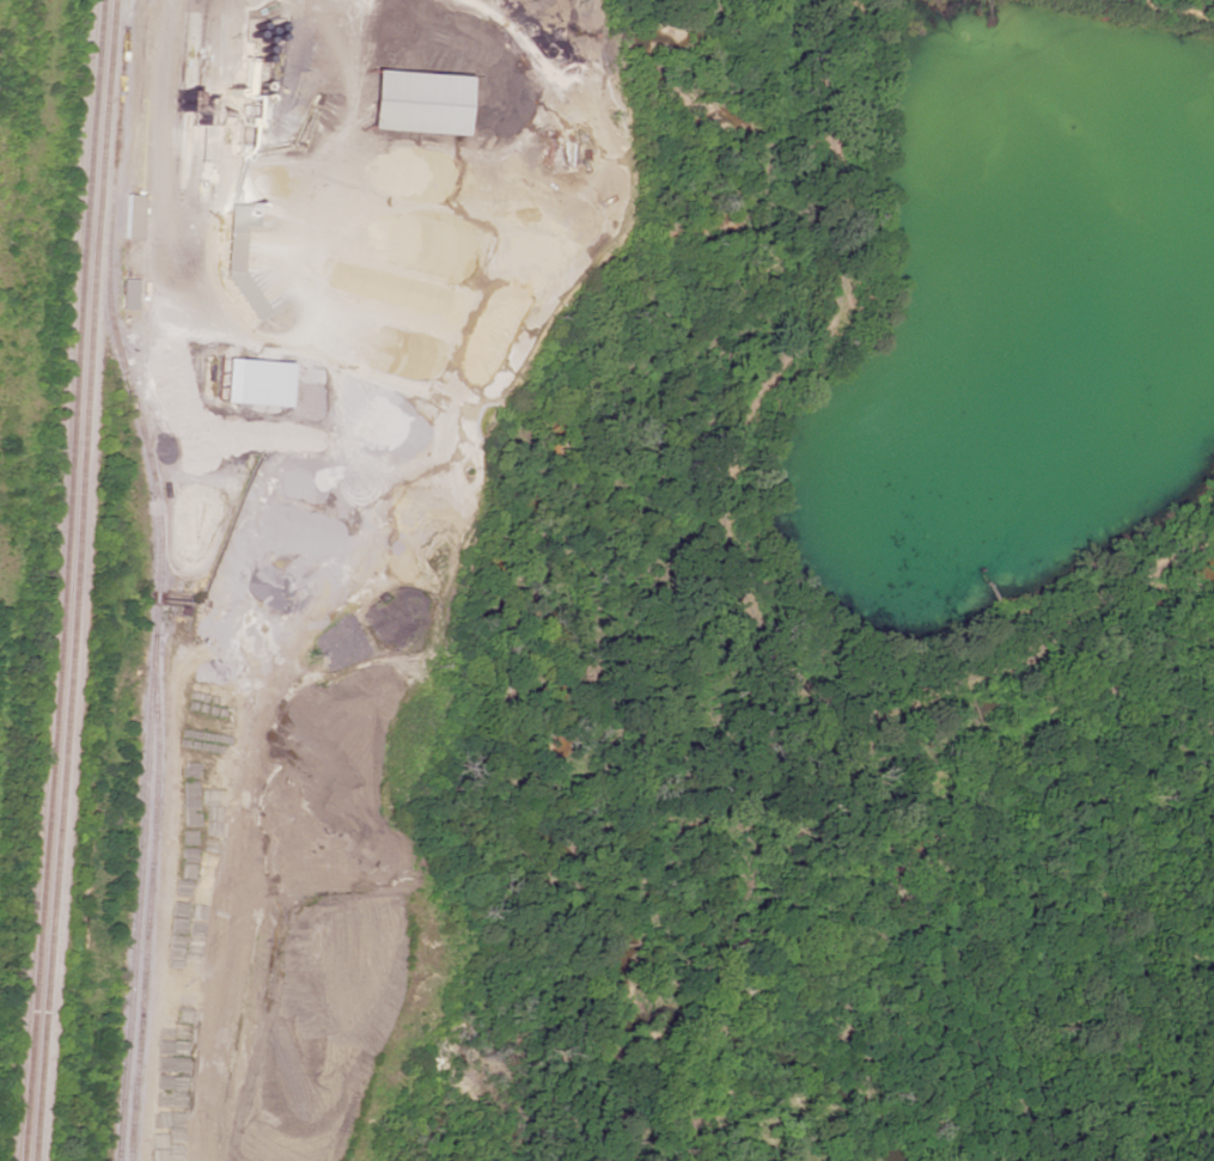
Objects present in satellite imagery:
building: (408, 102)
building: (132, 216)
building: (127, 294)
building: (250, 383)
railway: (154, 578)
railway: (63, 580)
railway: (75, 580)
railway: (141, 898)

